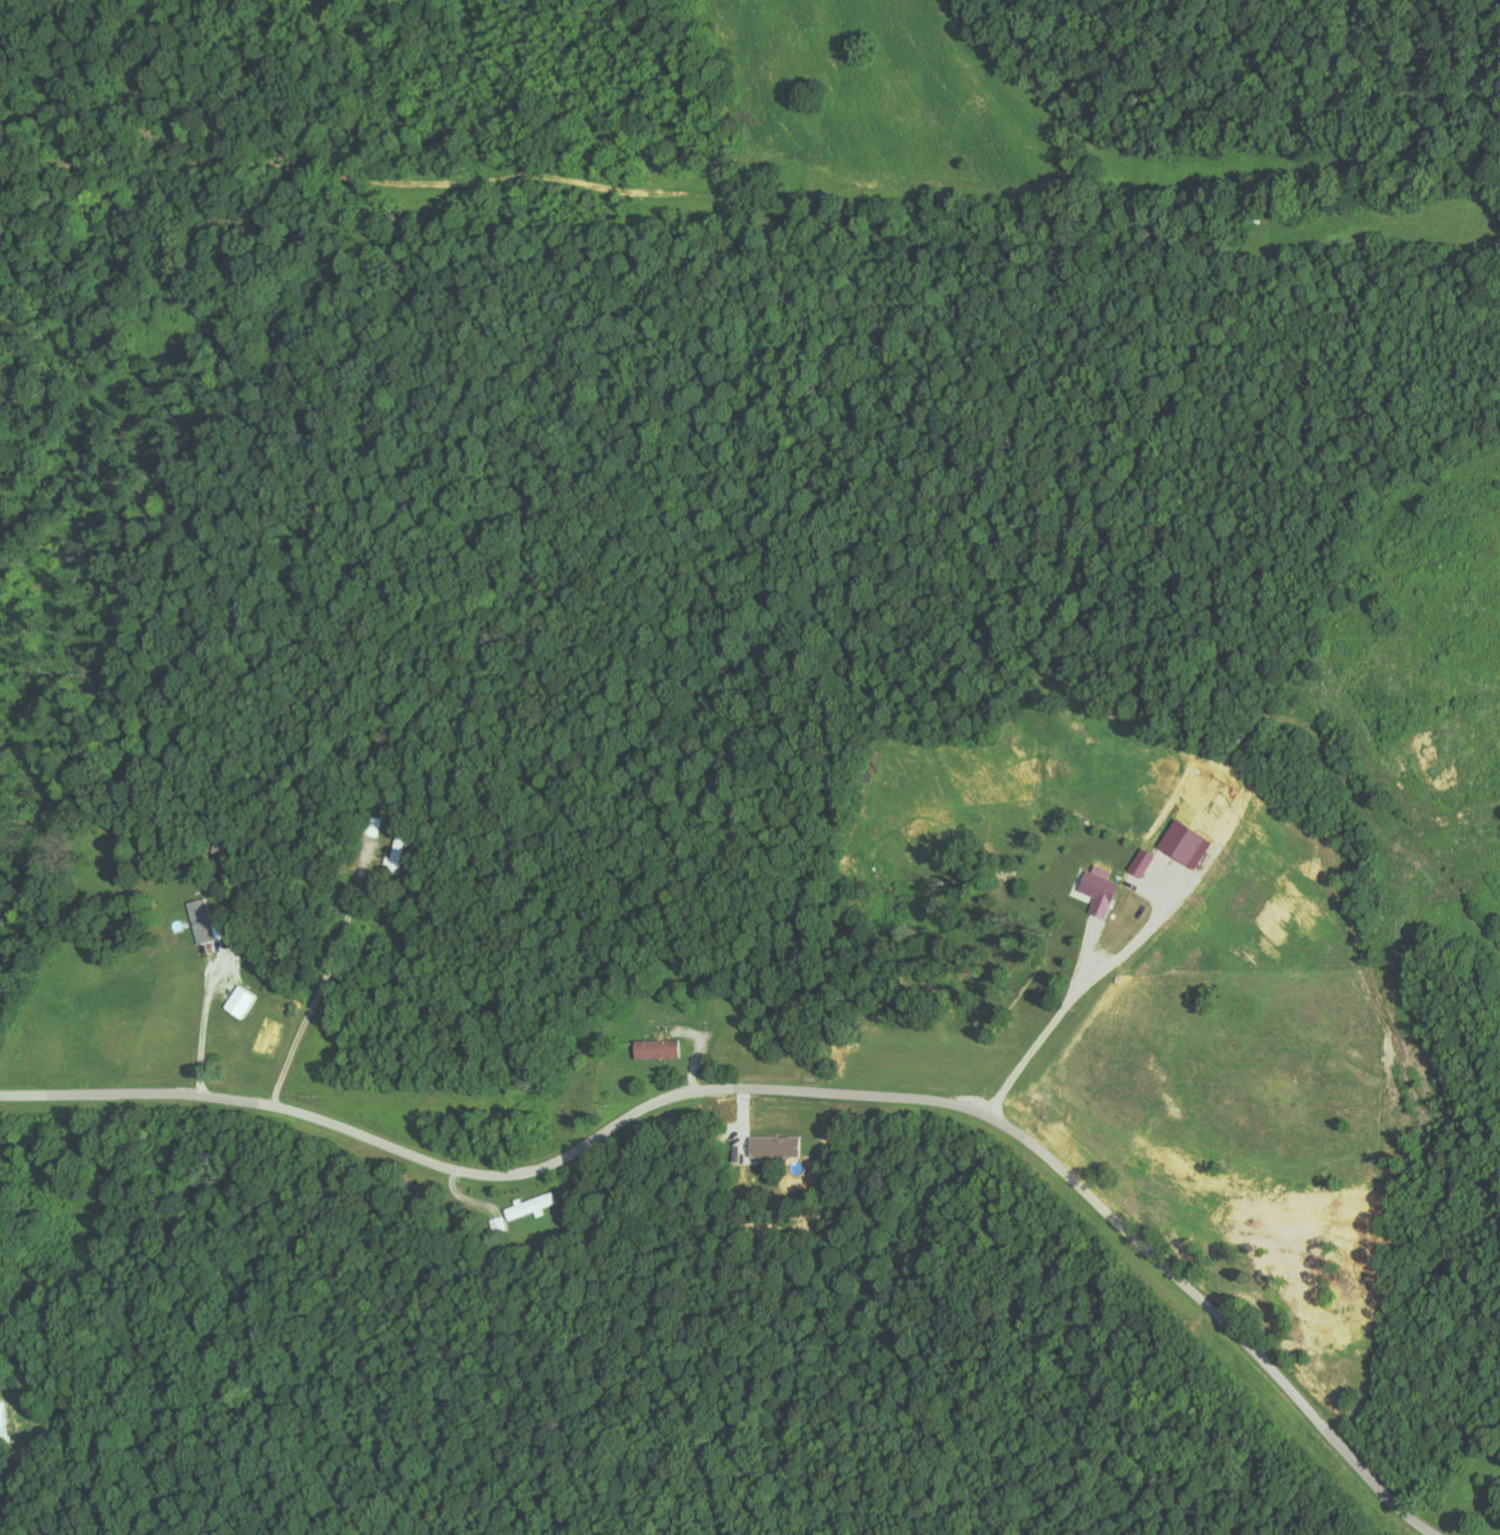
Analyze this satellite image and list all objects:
building: (1184, 844)
building: (1141, 863)
building: (1098, 892)
building: (201, 921)
building: (240, 1003)
road: (1050, 1030)
building: (656, 1049)
road: (789, 1089)
building: (774, 1147)
building: (530, 1206)
building: (2, 1419)

